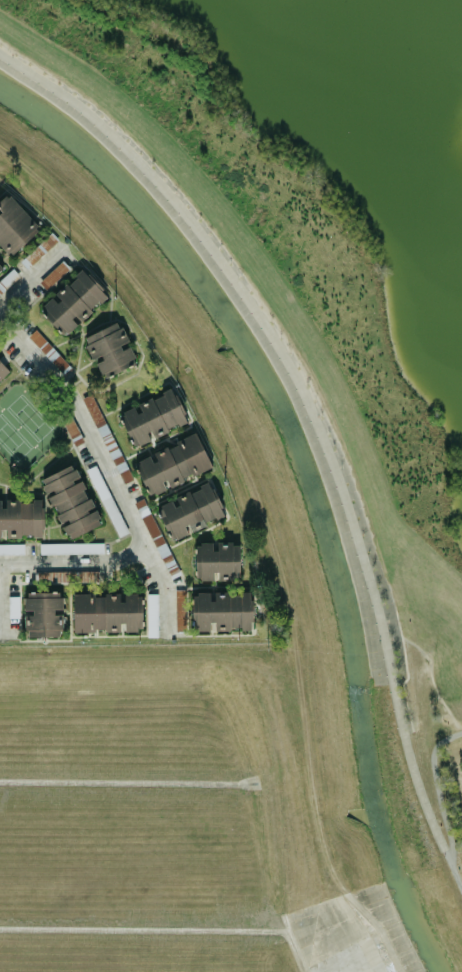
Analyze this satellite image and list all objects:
building: (14, 226)
building: (0, 269)
road: (29, 271)
building: (72, 303)
park: (307, 304)
building: (109, 350)
building: (2, 370)
building: (152, 417)
road: (313, 428)
road: (111, 455)
building: (173, 464)
building: (70, 502)
river: (301, 504)
building: (189, 511)
building: (21, 519)
building: (71, 548)
building: (11, 549)
road: (79, 554)
building: (217, 561)
road: (4, 598)
building: (13, 607)
building: (220, 611)
building: (107, 612)
building: (43, 614)
road: (434, 790)

